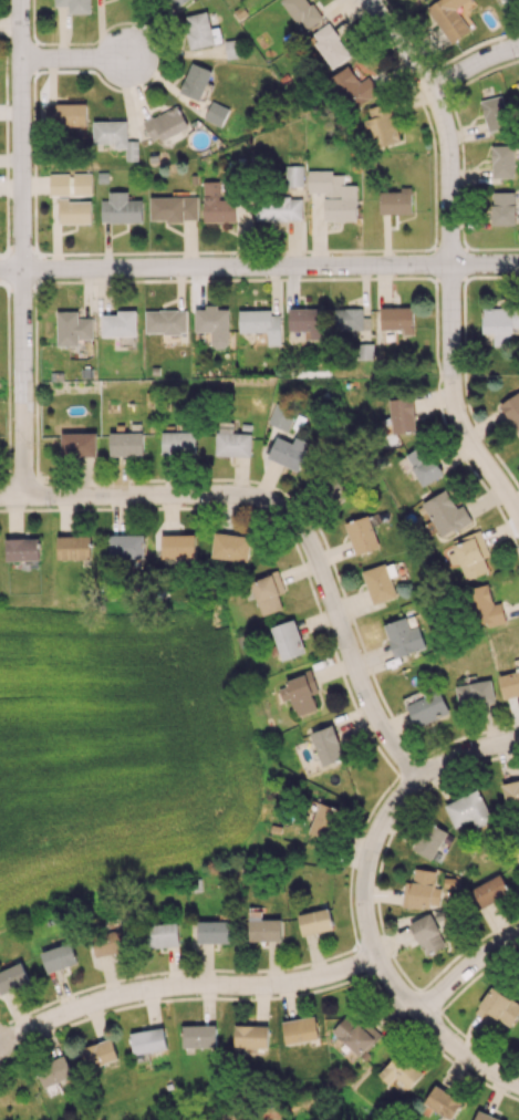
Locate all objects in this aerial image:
building: (176, 2)
building: (74, 4)
building: (302, 12)
building: (448, 18)
building: (199, 30)
building: (330, 44)
road: (79, 58)
road: (473, 65)
building: (195, 81)
building: (353, 85)
building: (215, 113)
building: (494, 113)
building: (49, 114)
building: (70, 114)
road: (445, 122)
building: (165, 124)
building: (382, 124)
road: (19, 135)
building: (115, 136)
building: (501, 160)
building: (293, 175)
building: (70, 184)
building: (333, 195)
building: (395, 201)
building: (217, 205)
building: (120, 208)
building: (173, 208)
building: (278, 208)
building: (502, 208)
building: (74, 211)
road: (259, 269)
road: (10, 283)
building: (346, 319)
building: (397, 319)
building: (165, 321)
building: (118, 323)
building: (261, 323)
building: (500, 323)
building: (214, 324)
building: (305, 324)
building: (72, 328)
road: (23, 385)
road: (456, 398)
building: (512, 408)
building: (402, 415)
building: (178, 443)
building: (232, 443)
building: (77, 444)
building: (126, 444)
building: (288, 452)
building: (424, 464)
building: (445, 514)
road: (287, 521)
building: (361, 535)
building: (177, 546)
building: (73, 547)
building: (125, 547)
building: (230, 547)
building: (21, 549)
building: (471, 554)
building: (377, 583)
building: (268, 592)
building: (482, 606)
building: (404, 636)
building: (288, 640)
building: (509, 683)
building: (302, 692)
building: (474, 693)
building: (427, 708)
building: (326, 745)
crop: (114, 746)
building: (511, 792)
building: (468, 810)
road: (385, 818)
building: (324, 820)
building: (429, 840)
building: (418, 889)
building: (490, 890)
building: (314, 921)
building: (264, 929)
building: (212, 931)
building: (429, 931)
building: (160, 935)
building: (108, 938)
building: (58, 957)
road: (466, 975)
building: (12, 977)
road: (186, 989)
building: (498, 1008)
building: (300, 1029)
building: (198, 1035)
building: (356, 1035)
building: (250, 1036)
road: (442, 1039)
building: (147, 1040)
building: (100, 1054)
building: (54, 1070)
building: (401, 1070)
building: (442, 1102)
building: (485, 1116)

